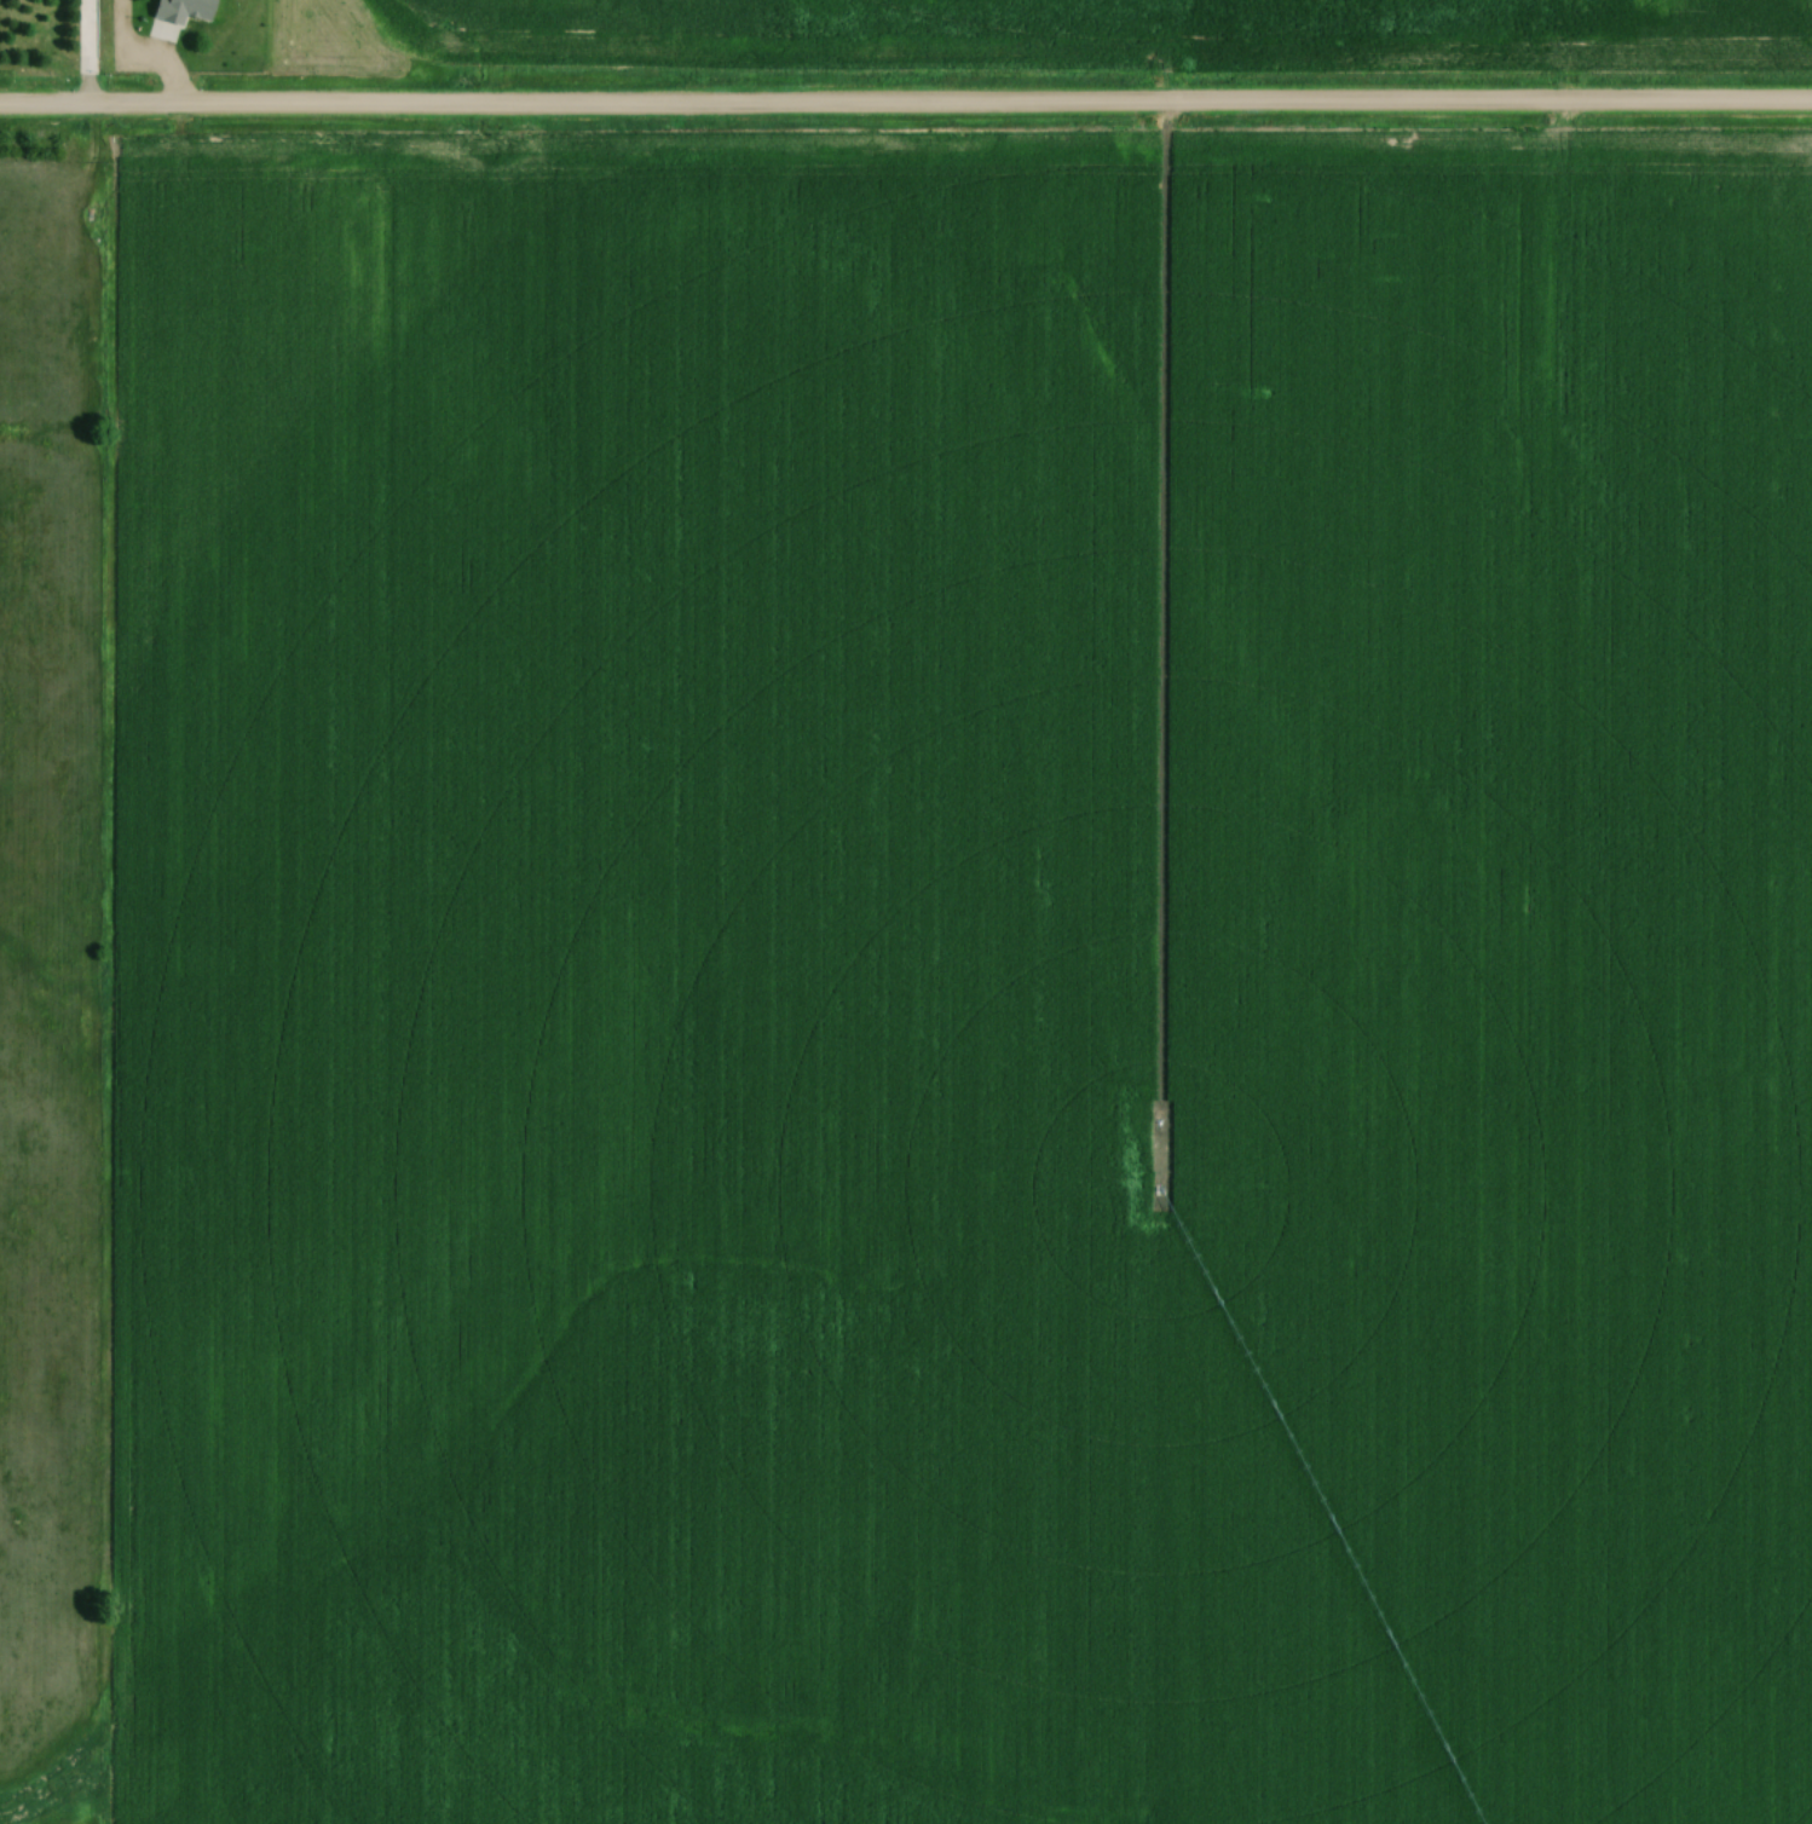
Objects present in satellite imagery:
building: (183, 10)
road: (85, 51)
road: (905, 103)

